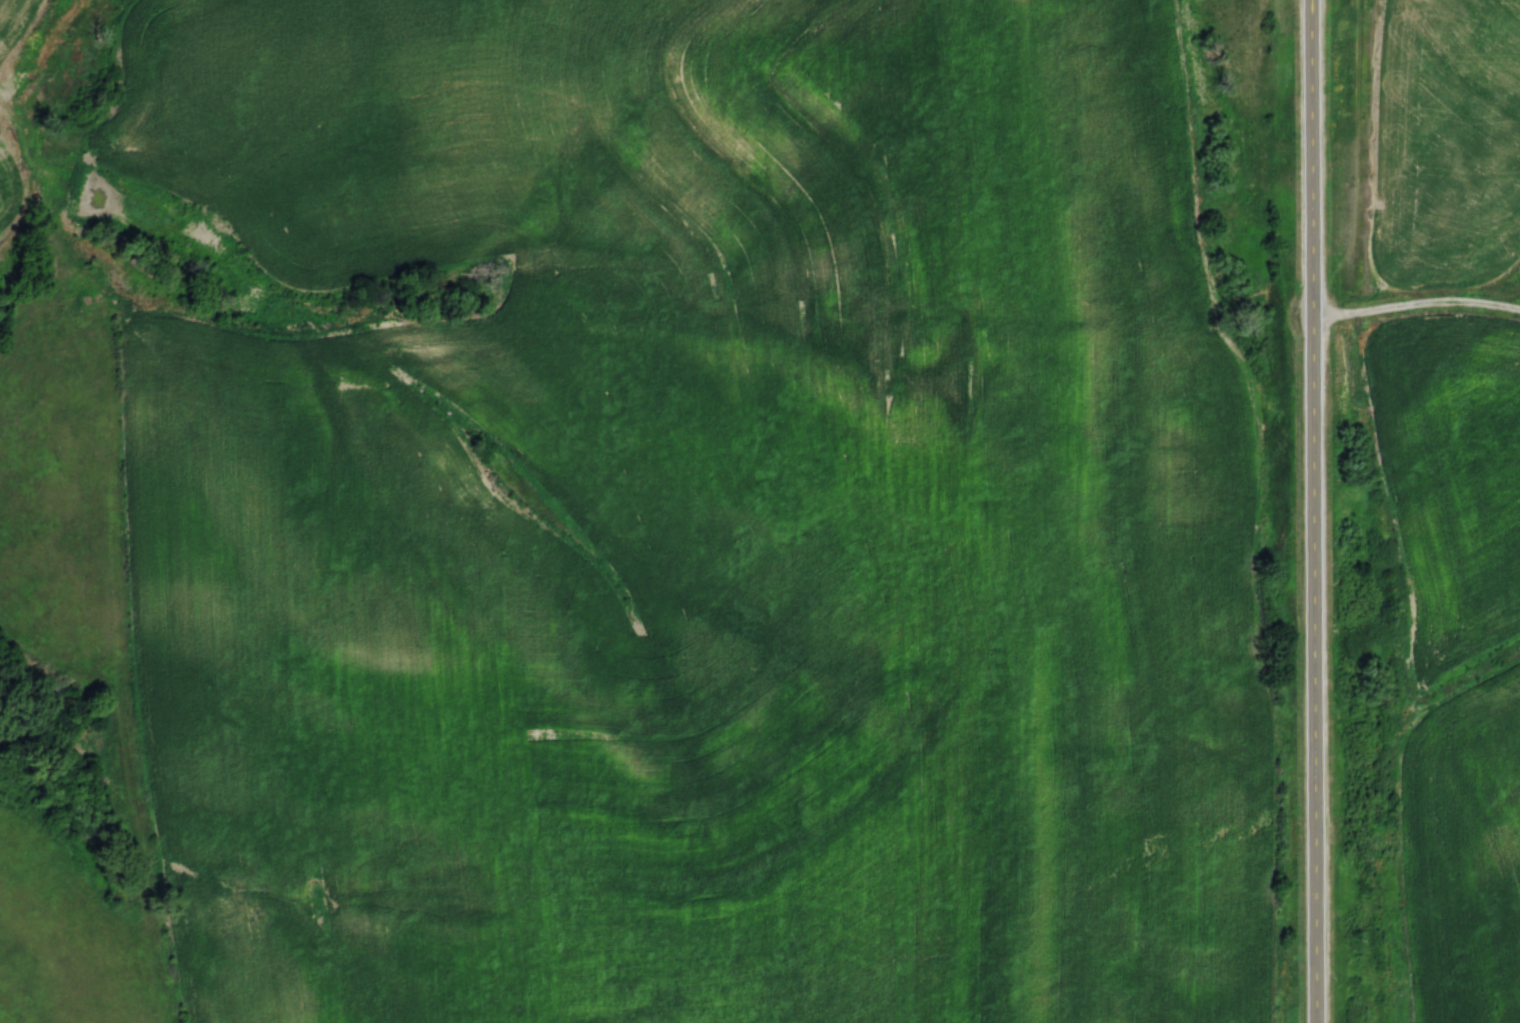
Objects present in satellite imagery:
road: (1414, 308)
road: (1310, 511)

